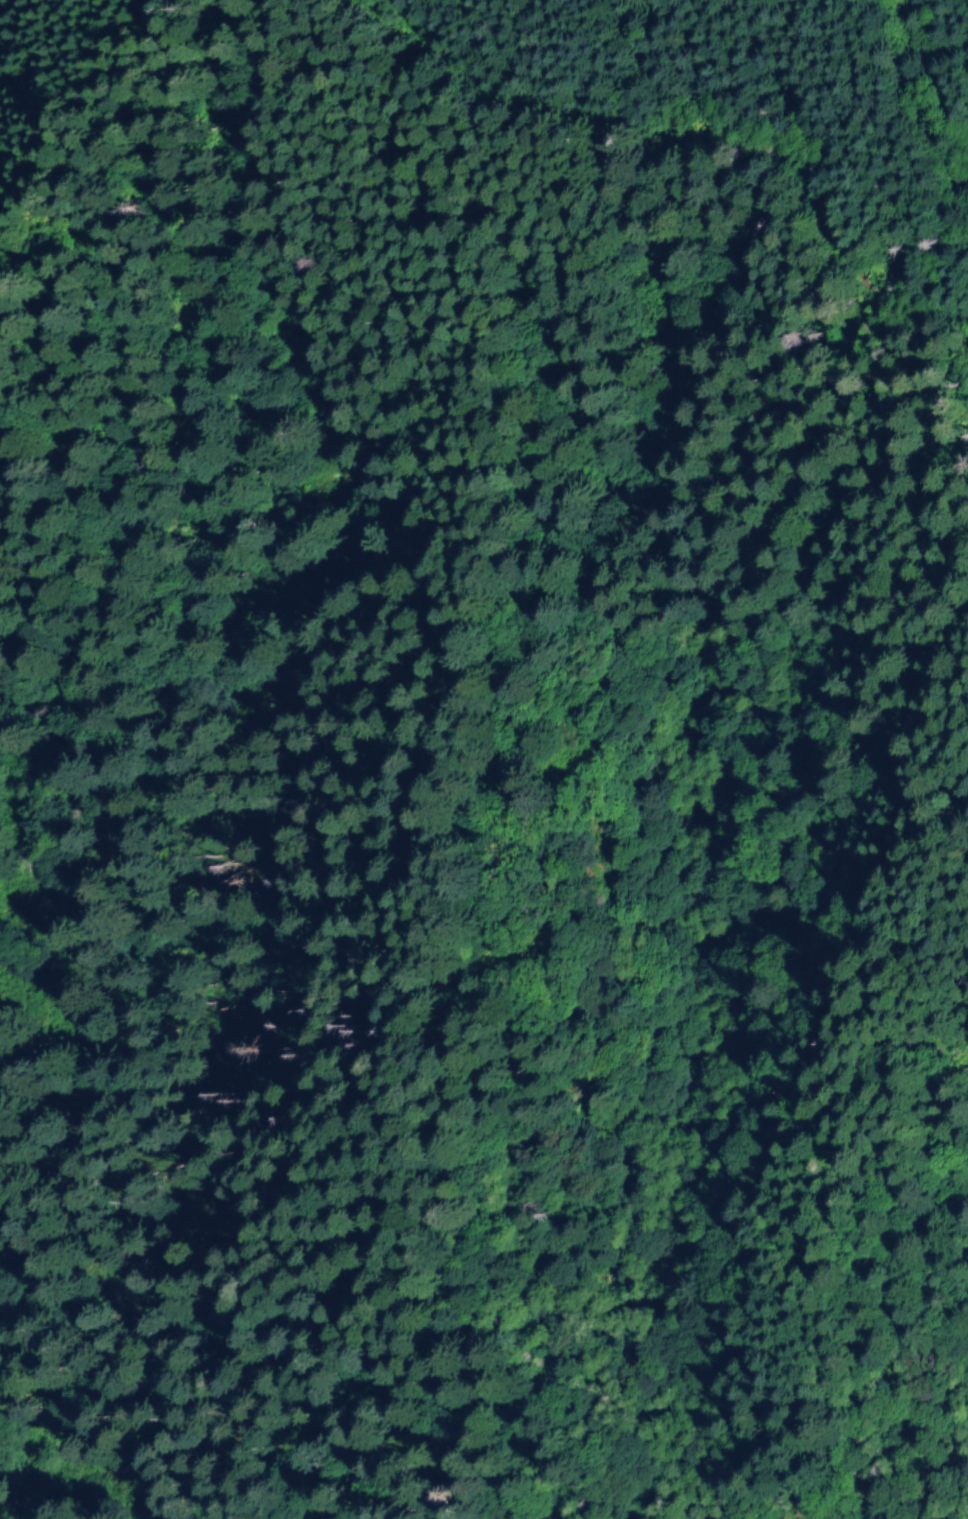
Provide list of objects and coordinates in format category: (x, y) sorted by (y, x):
road: (862, 269)
road: (904, 1455)

